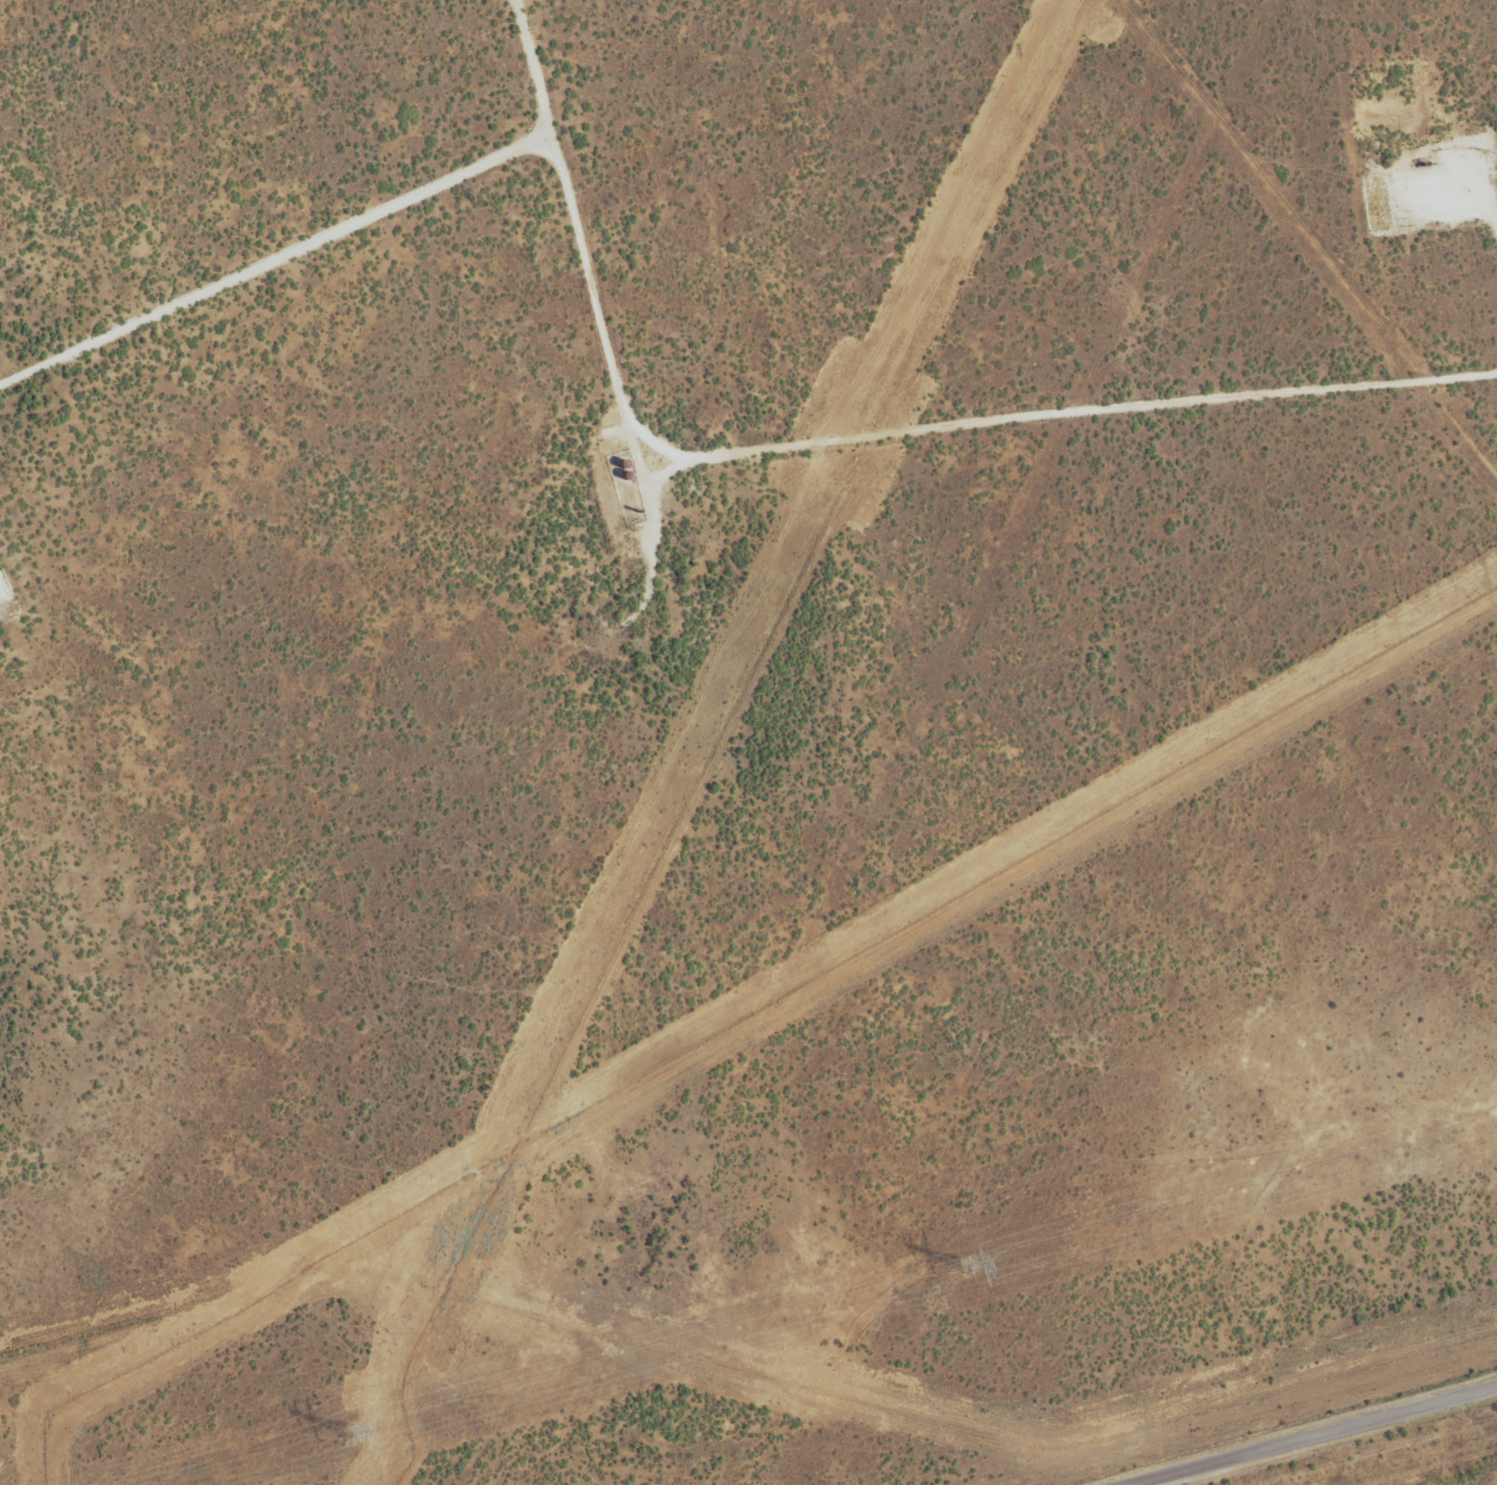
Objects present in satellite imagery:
power tower: (962, 1267)
power tower: (350, 1433)
road: (1319, 1437)

